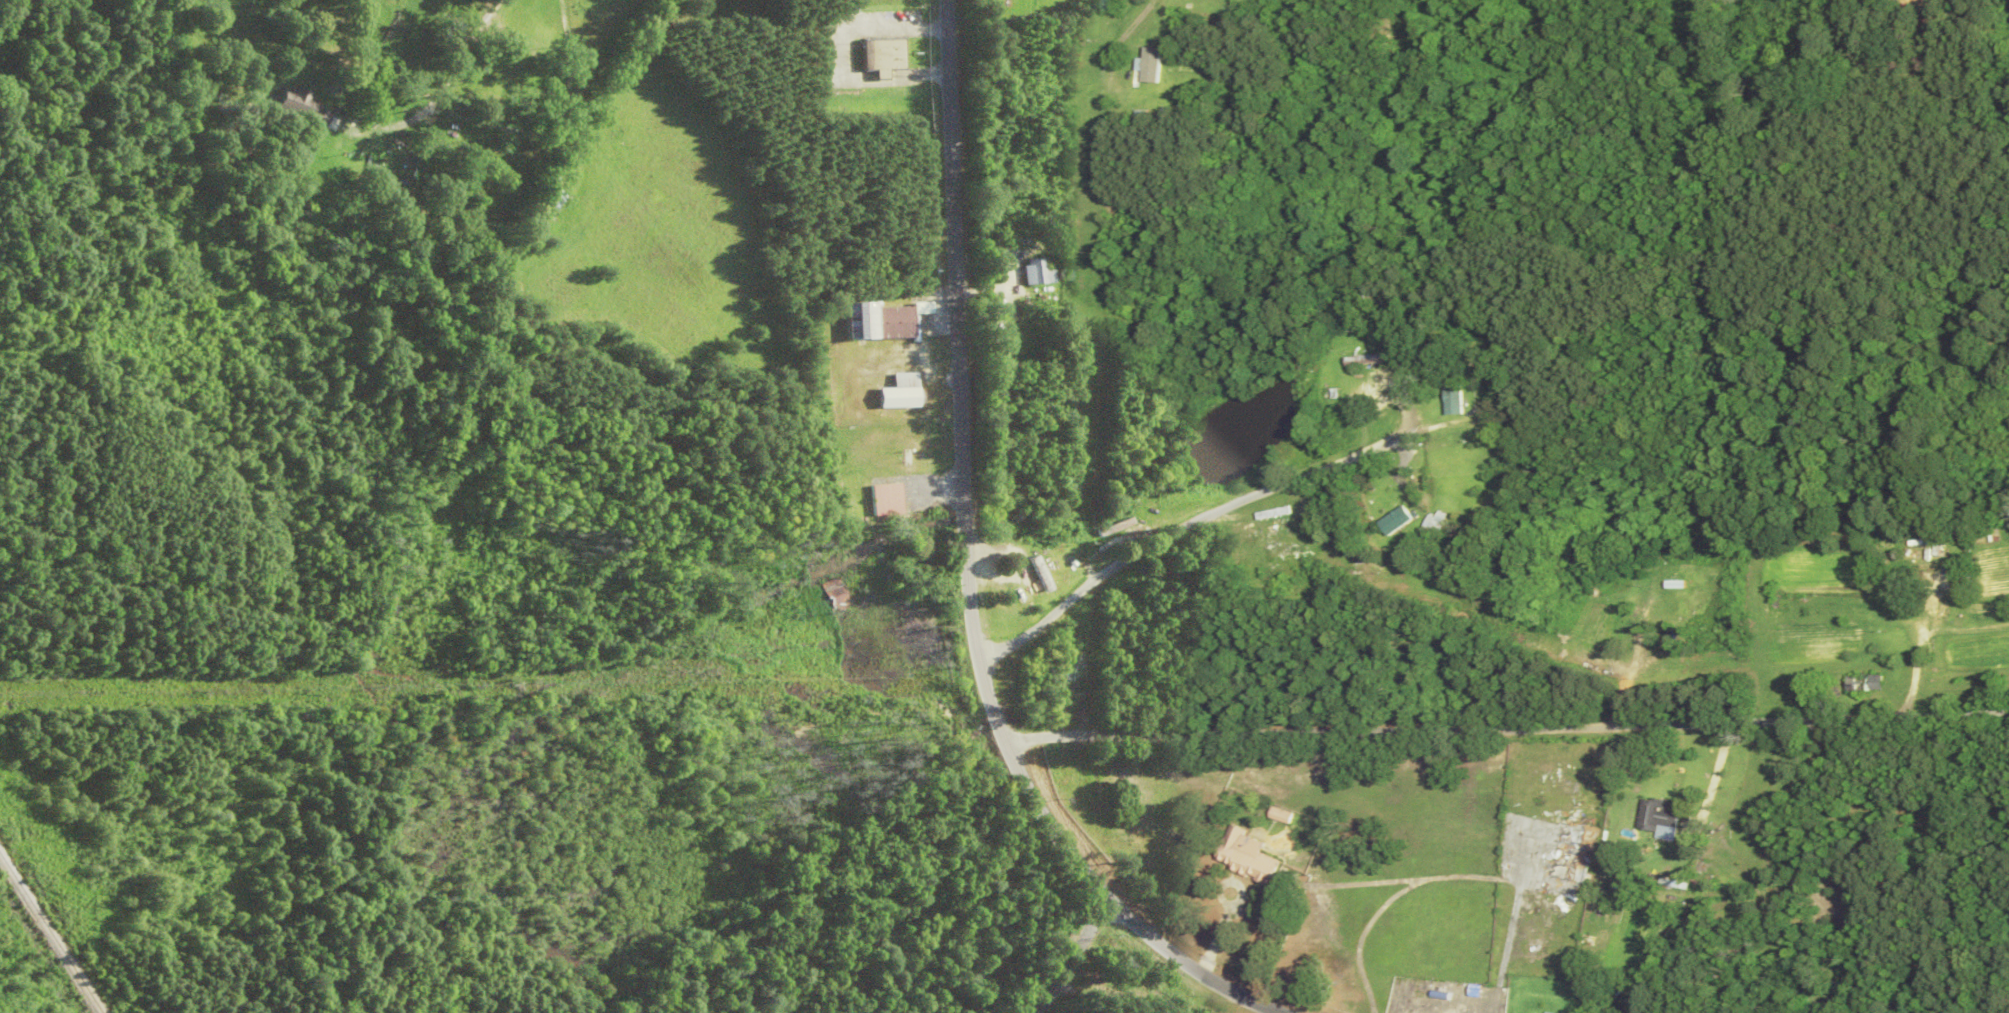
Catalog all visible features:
road: (822, 23)
road: (1466, 32)
building: (881, 56)
road: (448, 68)
building: (299, 106)
building: (575, 148)
building: (515, 157)
building: (548, 203)
building: (1035, 273)
building: (882, 321)
building: (1365, 361)
building: (1489, 368)
building: (900, 392)
building: (1457, 394)
building: (886, 500)
building: (1399, 521)
road: (1183, 526)
building: (930, 558)
road: (966, 571)
building: (1043, 575)
building: (1867, 684)
road: (1506, 735)
building: (1660, 819)
building: (1249, 857)
building: (1573, 863)
railway: (50, 935)
road: (1070, 954)
building: (1549, 1012)

